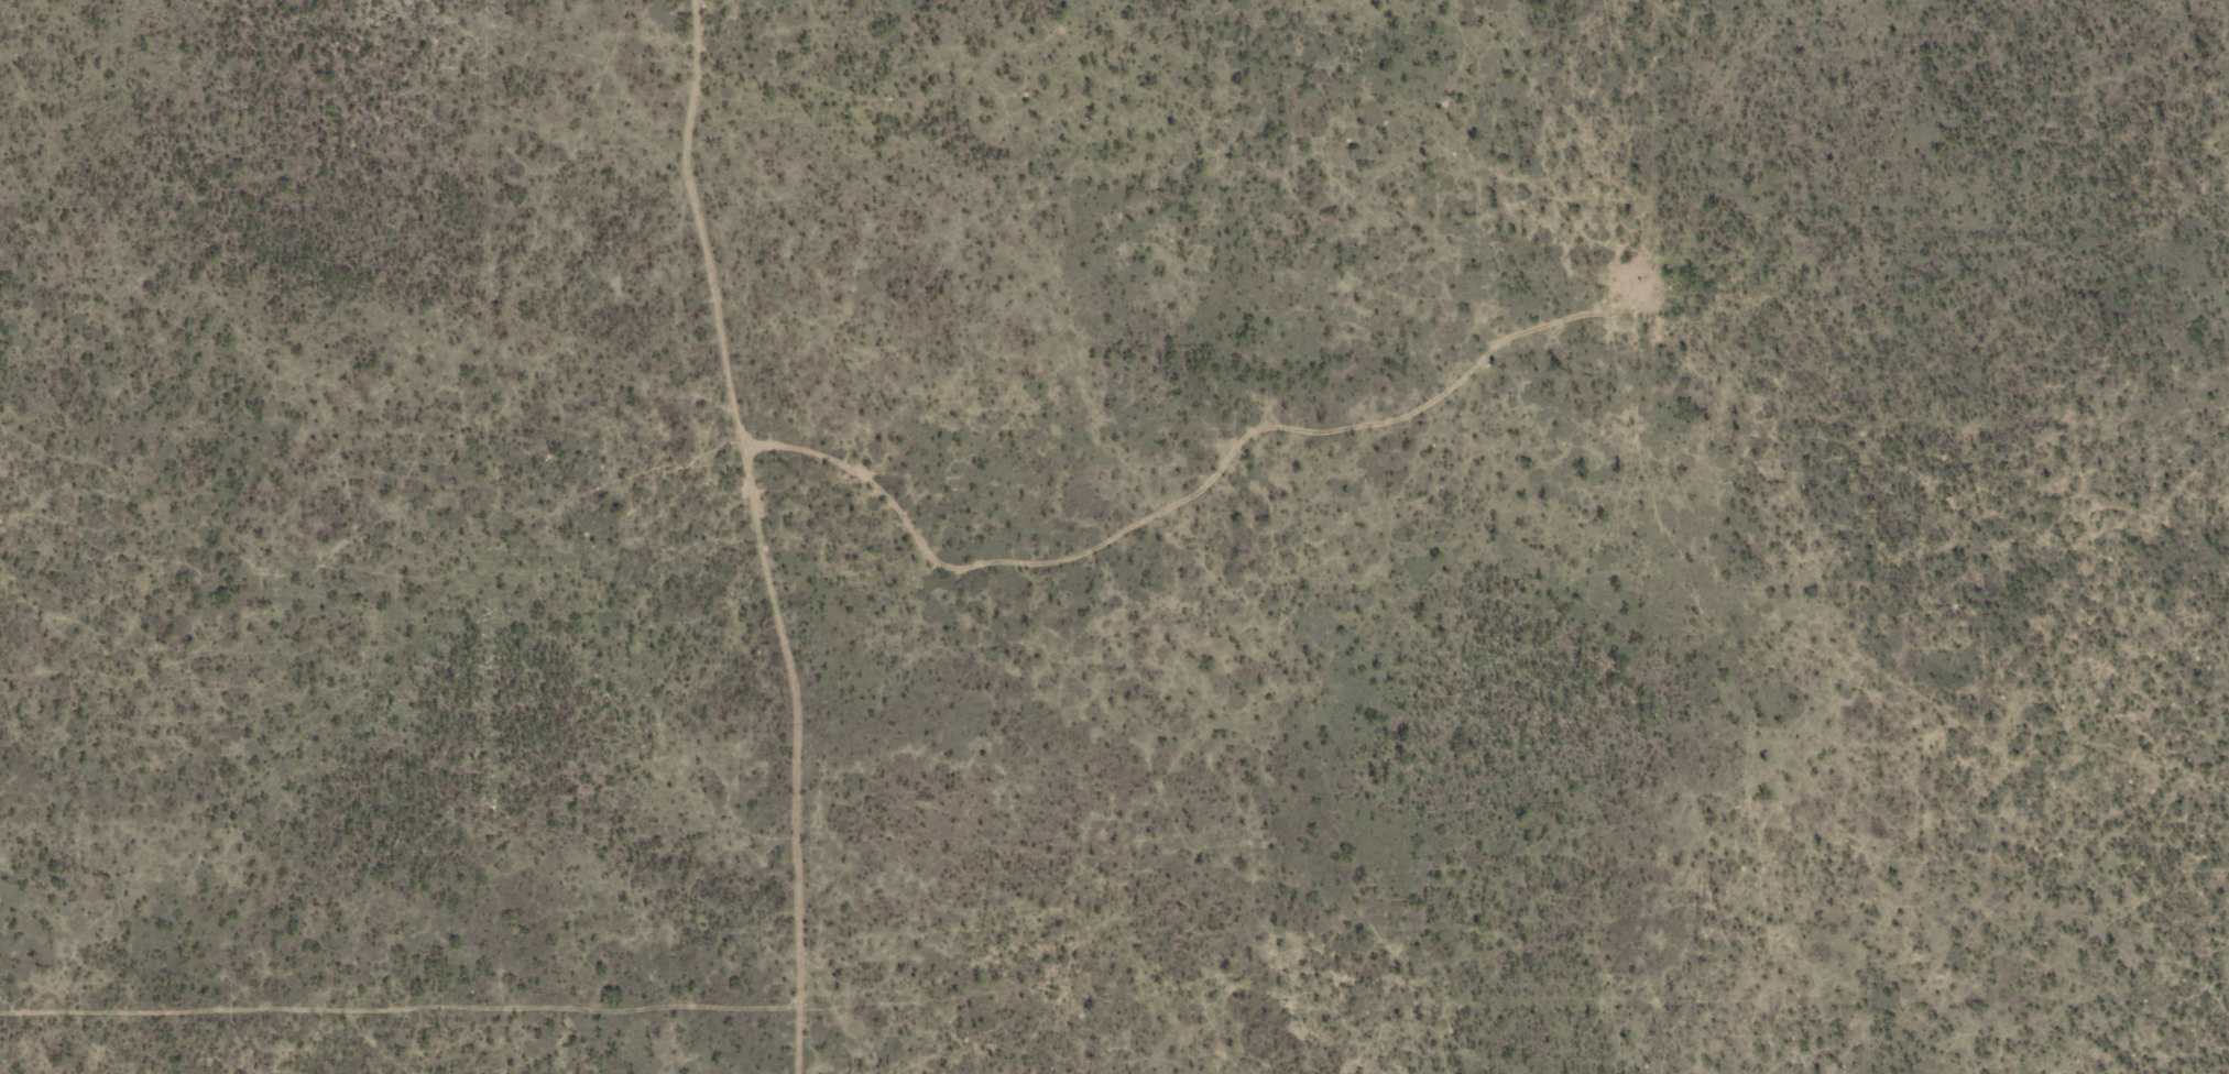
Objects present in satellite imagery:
road: (788, 531)

